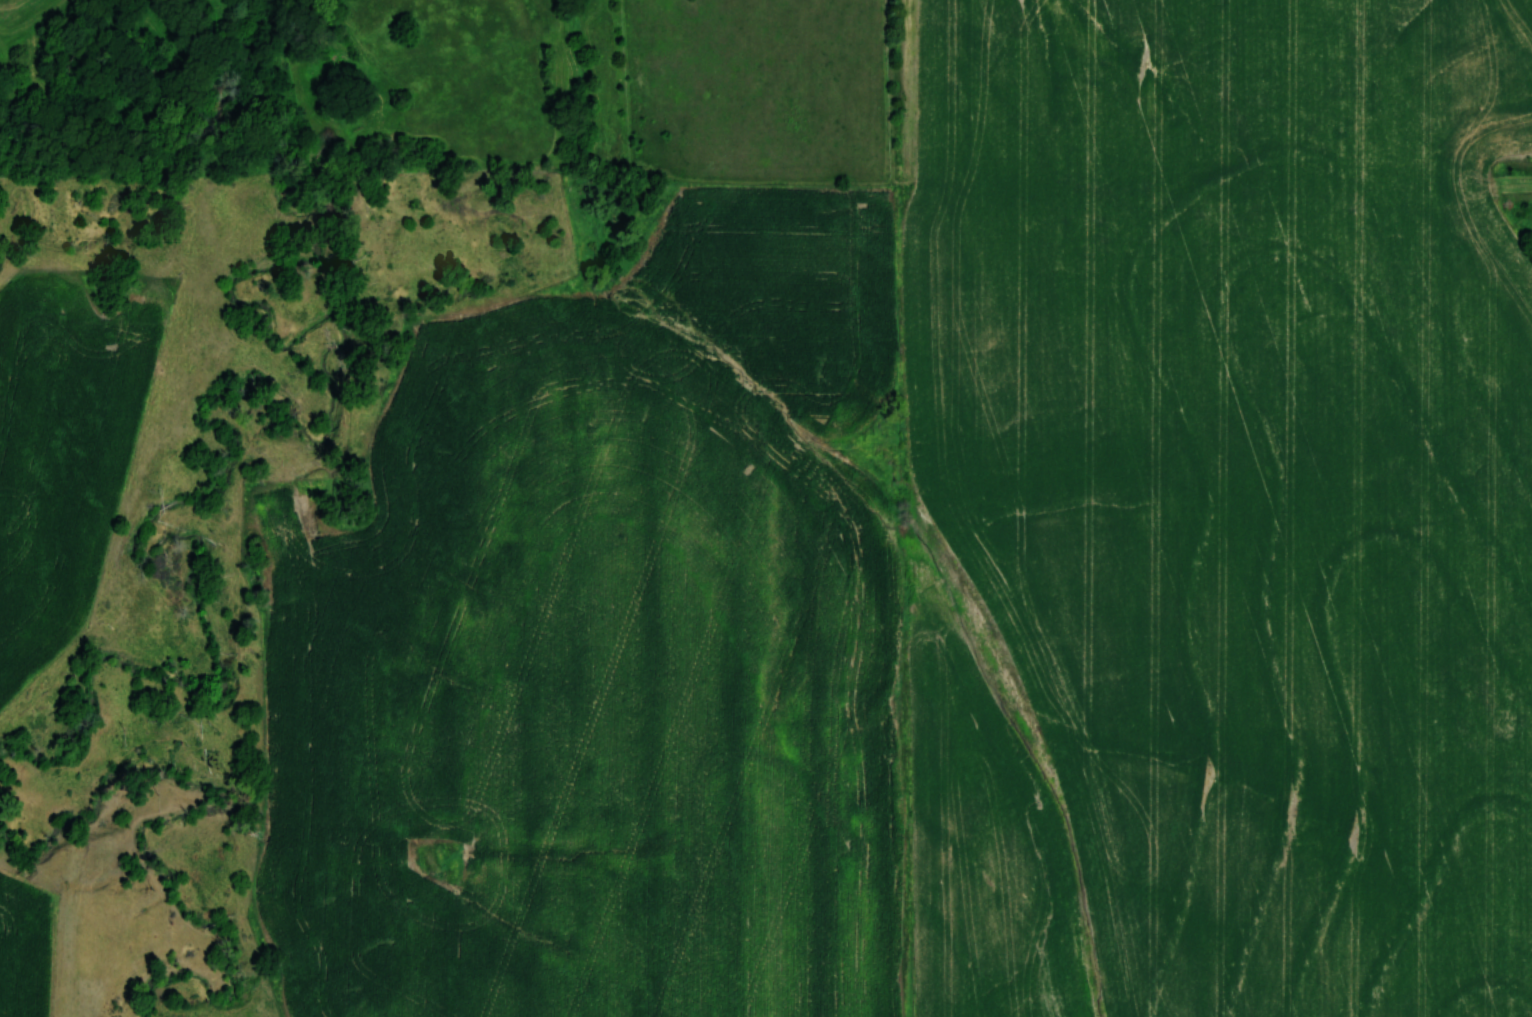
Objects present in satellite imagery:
dam: (1514, 186)

